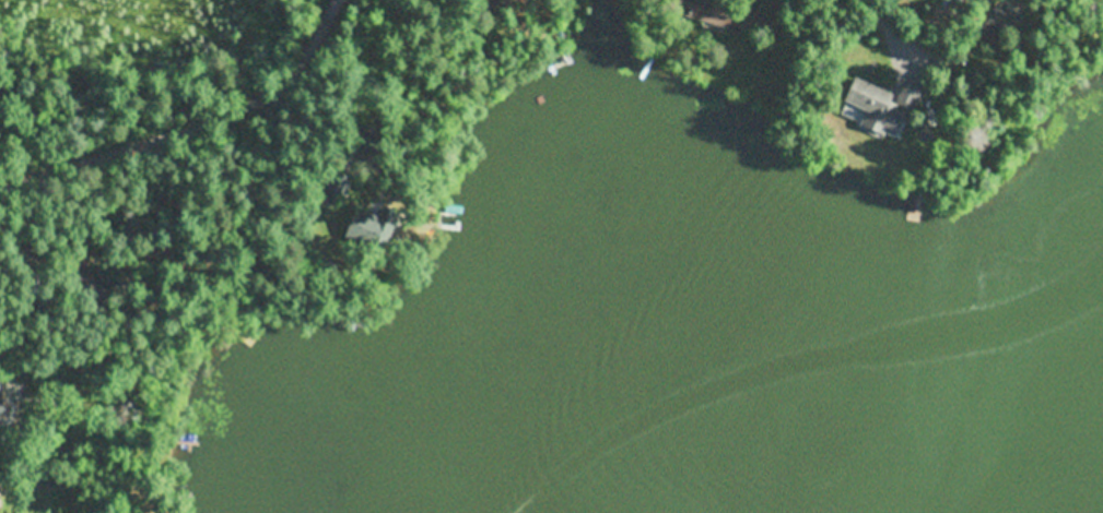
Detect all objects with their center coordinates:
building: (485, 1)
building: (713, 11)
building: (999, 21)
road: (897, 48)
building: (971, 79)
building: (884, 106)
road: (196, 126)
building: (330, 183)
building: (375, 224)
building: (33, 263)
building: (94, 282)
building: (1, 398)
river: (1008, 432)

